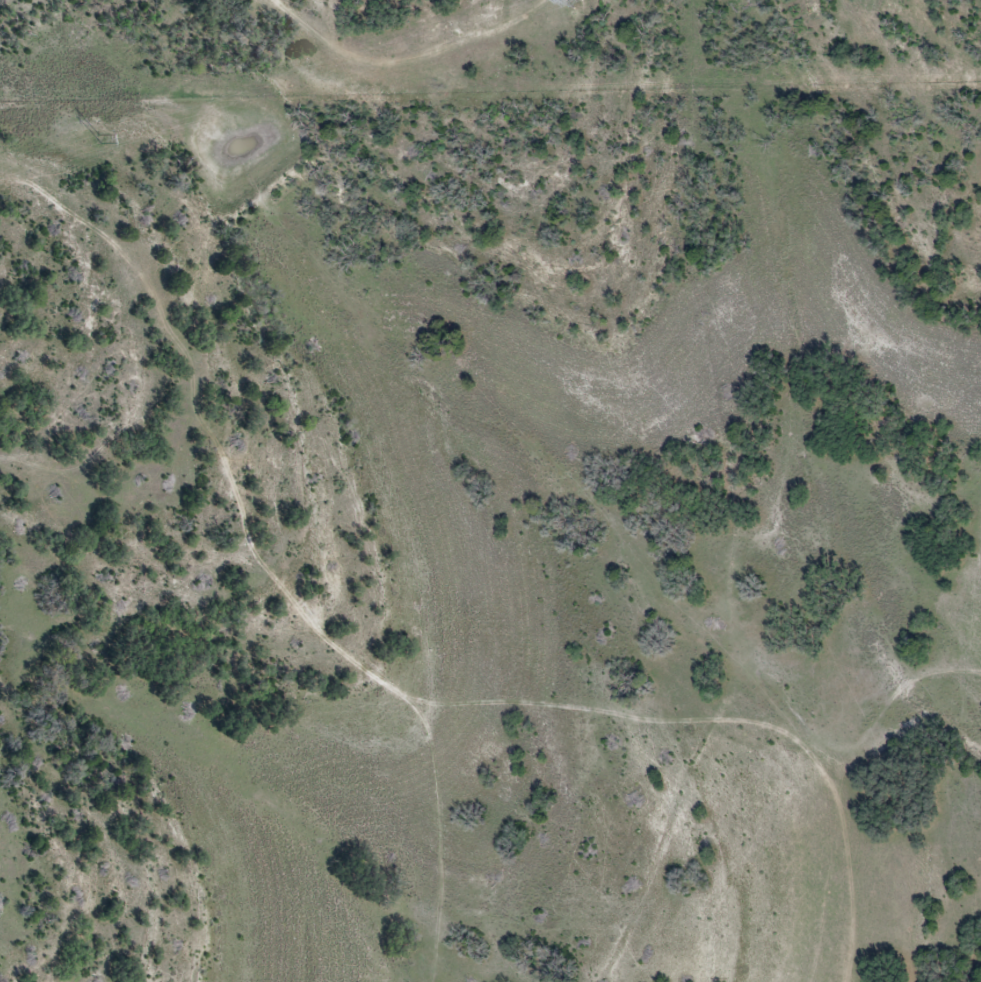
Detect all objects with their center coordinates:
power tower: (576, 1)
power tower: (100, 141)

